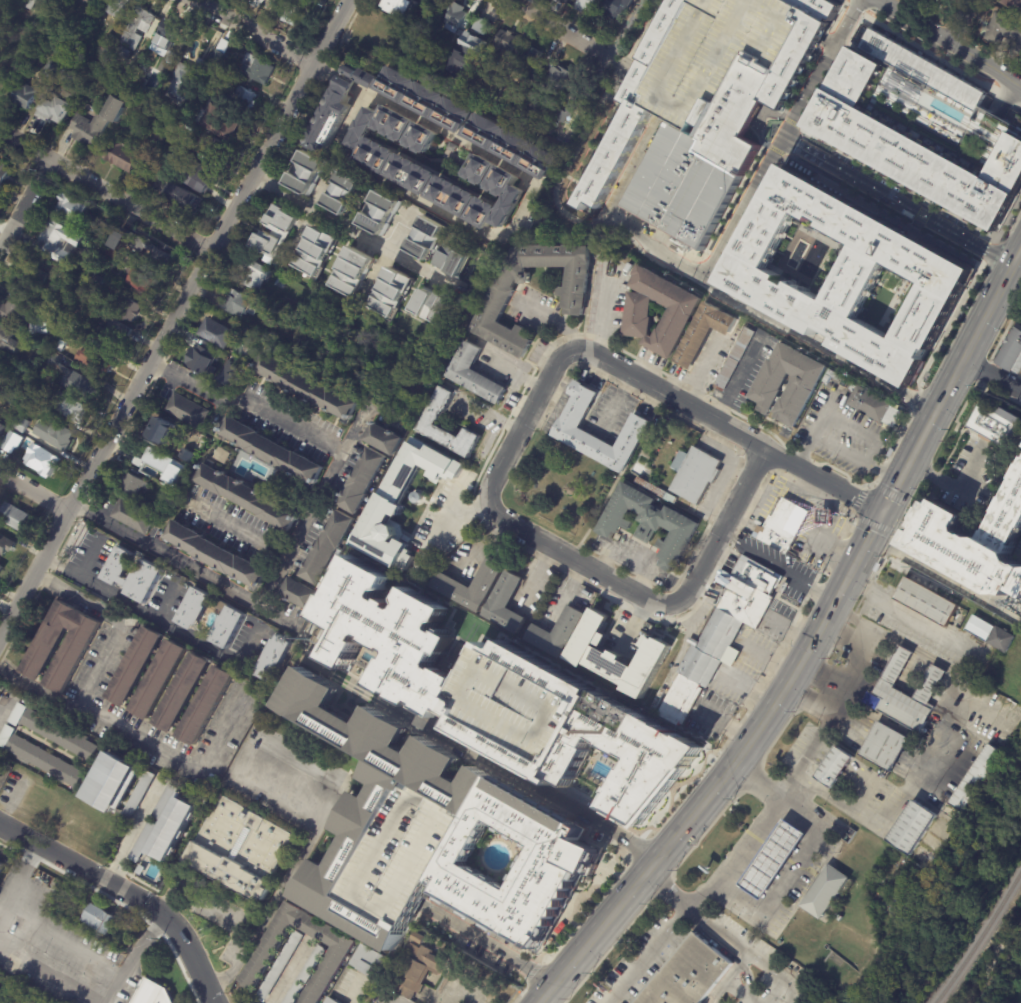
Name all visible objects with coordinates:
building: (98, 1)
building: (564, 1)
road: (844, 1)
building: (927, 2)
building: (29, 3)
building: (257, 3)
building: (584, 5)
building: (1012, 5)
building: (118, 6)
building: (397, 6)
road: (854, 7)
building: (614, 8)
building: (290, 11)
building: (454, 17)
road: (955, 19)
building: (480, 25)
building: (138, 27)
road: (855, 27)
road: (561, 29)
road: (627, 29)
road: (255, 32)
building: (167, 33)
building: (1004, 34)
road: (639, 38)
building: (109, 41)
road: (950, 41)
building: (503, 44)
road: (848, 46)
building: (799, 49)
road: (929, 50)
building: (125, 52)
road: (837, 53)
building: (714, 55)
parking garage: (714, 55)
building: (219, 57)
road: (842, 57)
building: (462, 58)
building: (528, 65)
road: (837, 66)
building: (50, 68)
building: (258, 68)
building: (434, 69)
road: (326, 71)
road: (834, 73)
building: (181, 78)
building: (556, 78)
building: (497, 80)
road: (346, 82)
road: (828, 83)
building: (76, 86)
building: (520, 93)
building: (24, 95)
road: (1005, 96)
building: (245, 97)
road: (1006, 97)
building: (573, 100)
building: (422, 101)
building: (533, 102)
road: (1018, 103)
building: (336, 108)
road: (813, 109)
building: (49, 112)
building: (628, 113)
building: (97, 121)
building: (219, 121)
road: (791, 122)
building: (922, 126)
building: (160, 134)
building: (178, 139)
building: (446, 147)
building: (508, 148)
road: (804, 151)
building: (210, 152)
building: (121, 155)
building: (163, 161)
building: (702, 161)
building: (397, 168)
building: (305, 171)
building: (3, 173)
building: (203, 177)
road: (898, 181)
building: (345, 191)
road: (102, 194)
building: (182, 198)
road: (928, 202)
road: (22, 203)
building: (71, 208)
building: (380, 211)
road: (306, 212)
road: (920, 213)
road: (920, 214)
road: (1006, 218)
road: (916, 224)
road: (352, 229)
building: (275, 233)
road: (502, 234)
building: (114, 235)
building: (426, 236)
building: (58, 241)
road: (991, 247)
road: (723, 249)
building: (315, 251)
building: (112, 252)
building: (152, 252)
road: (384, 253)
building: (453, 259)
building: (352, 271)
building: (254, 273)
building: (849, 274)
building: (29, 278)
building: (143, 282)
building: (282, 283)
building: (66, 284)
building: (390, 293)
building: (494, 303)
building: (241, 304)
building: (430, 306)
building: (129, 309)
building: (13, 312)
road: (605, 312)
building: (678, 313)
road: (173, 314)
road: (554, 319)
building: (74, 324)
building: (42, 326)
building: (115, 333)
building: (222, 333)
building: (250, 333)
building: (68, 334)
building: (704, 334)
building: (8, 339)
road: (820, 350)
building: (1011, 351)
building: (250, 353)
road: (560, 358)
building: (733, 359)
building: (94, 361)
building: (204, 361)
building: (0, 363)
building: (32, 366)
building: (0, 367)
building: (26, 375)
building: (471, 375)
building: (75, 378)
road: (738, 379)
road: (992, 380)
building: (802, 383)
building: (301, 387)
building: (4, 395)
building: (19, 395)
building: (33, 397)
building: (12, 400)
road: (616, 401)
building: (874, 406)
building: (68, 407)
building: (188, 411)
building: (429, 419)
building: (994, 422)
building: (19, 424)
road: (353, 424)
building: (566, 426)
building: (1, 429)
building: (165, 431)
building: (53, 435)
road: (829, 436)
building: (11, 439)
building: (379, 439)
building: (175, 451)
building: (273, 451)
building: (890, 452)
building: (155, 454)
building: (223, 456)
road: (335, 459)
building: (42, 461)
road: (888, 471)
building: (696, 475)
building: (176, 480)
building: (361, 481)
road: (823, 481)
building: (133, 485)
road: (954, 486)
park: (563, 488)
building: (570, 491)
building: (655, 492)
road: (32, 495)
building: (246, 496)
building: (415, 497)
building: (389, 500)
road: (889, 500)
traffic signals: (883, 513)
building: (829, 516)
gas station: (829, 516)
building: (15, 517)
building: (134, 517)
road: (447, 522)
building: (648, 524)
building: (783, 527)
building: (972, 542)
building: (6, 545)
building: (325, 548)
road: (87, 555)
building: (217, 555)
road: (183, 563)
road: (778, 565)
building: (1, 569)
road: (934, 570)
building: (756, 574)
building: (133, 576)
building: (487, 578)
road: (274, 579)
building: (743, 588)
building: (298, 596)
road: (164, 599)
building: (925, 601)
building: (505, 603)
building: (741, 607)
building: (193, 609)
road: (532, 616)
road: (119, 620)
road: (157, 621)
road: (635, 624)
road: (792, 625)
building: (227, 627)
building: (979, 628)
building: (558, 632)
building: (719, 636)
building: (1001, 639)
building: (44, 650)
building: (618, 655)
road: (770, 657)
building: (274, 660)
building: (700, 666)
building: (136, 667)
building: (160, 681)
building: (888, 691)
building: (183, 694)
building: (501, 695)
road: (4, 699)
building: (681, 699)
building: (207, 707)
building: (18, 715)
road: (724, 725)
building: (60, 735)
building: (6, 736)
building: (884, 745)
road: (145, 746)
building: (0, 757)
building: (46, 762)
building: (833, 766)
road: (502, 768)
building: (977, 778)
building: (113, 785)
building: (138, 795)
building: (911, 827)
road: (131, 828)
building: (173, 828)
road: (756, 833)
building: (430, 834)
building: (241, 850)
building: (771, 860)
gas station: (771, 860)
building: (2, 865)
road: (293, 870)
road: (788, 871)
road: (642, 872)
road: (662, 890)
road: (127, 893)
building: (823, 893)
road: (4, 900)
road: (223, 906)
building: (99, 919)
road: (35, 923)
road: (714, 927)
railway: (980, 935)
building: (419, 938)
road: (486, 944)
road: (645, 954)
road: (131, 955)
road: (755, 958)
building: (335, 959)
building: (370, 960)
park: (995, 963)
building: (278, 966)
building: (418, 970)
road: (287, 971)
building: (303, 975)
building: (688, 975)
road: (52, 976)
road: (729, 977)
road: (458, 988)
road: (351, 990)
building: (152, 993)
road: (396, 998)
building: (333, 1000)

